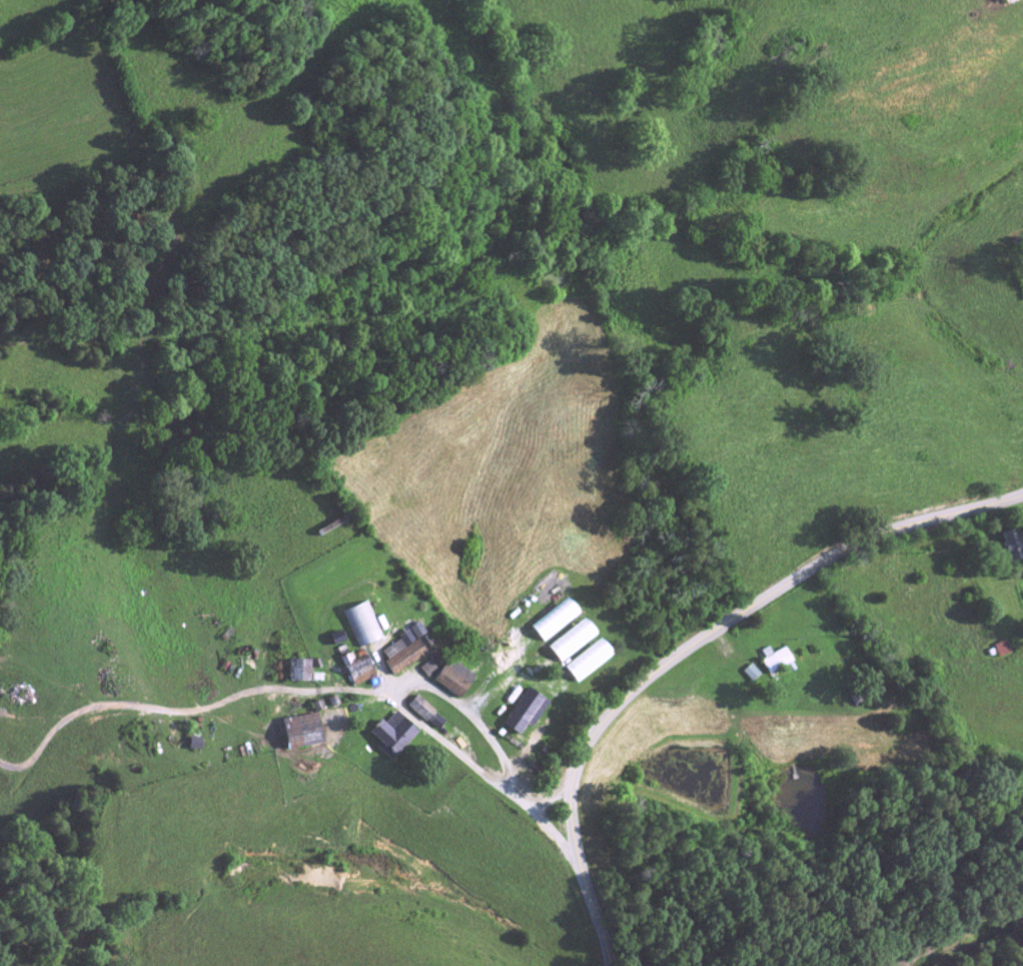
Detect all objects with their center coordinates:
building: (1009, 3)
building: (1010, 547)
building: (553, 623)
building: (362, 626)
building: (570, 644)
road: (689, 648)
building: (405, 651)
building: (586, 664)
building: (776, 664)
building: (356, 671)
building: (429, 671)
building: (301, 672)
building: (750, 675)
building: (455, 680)
building: (524, 714)
road: (189, 715)
building: (427, 716)
road: (420, 722)
building: (300, 734)
building: (393, 737)
building: (194, 745)
road: (550, 793)

